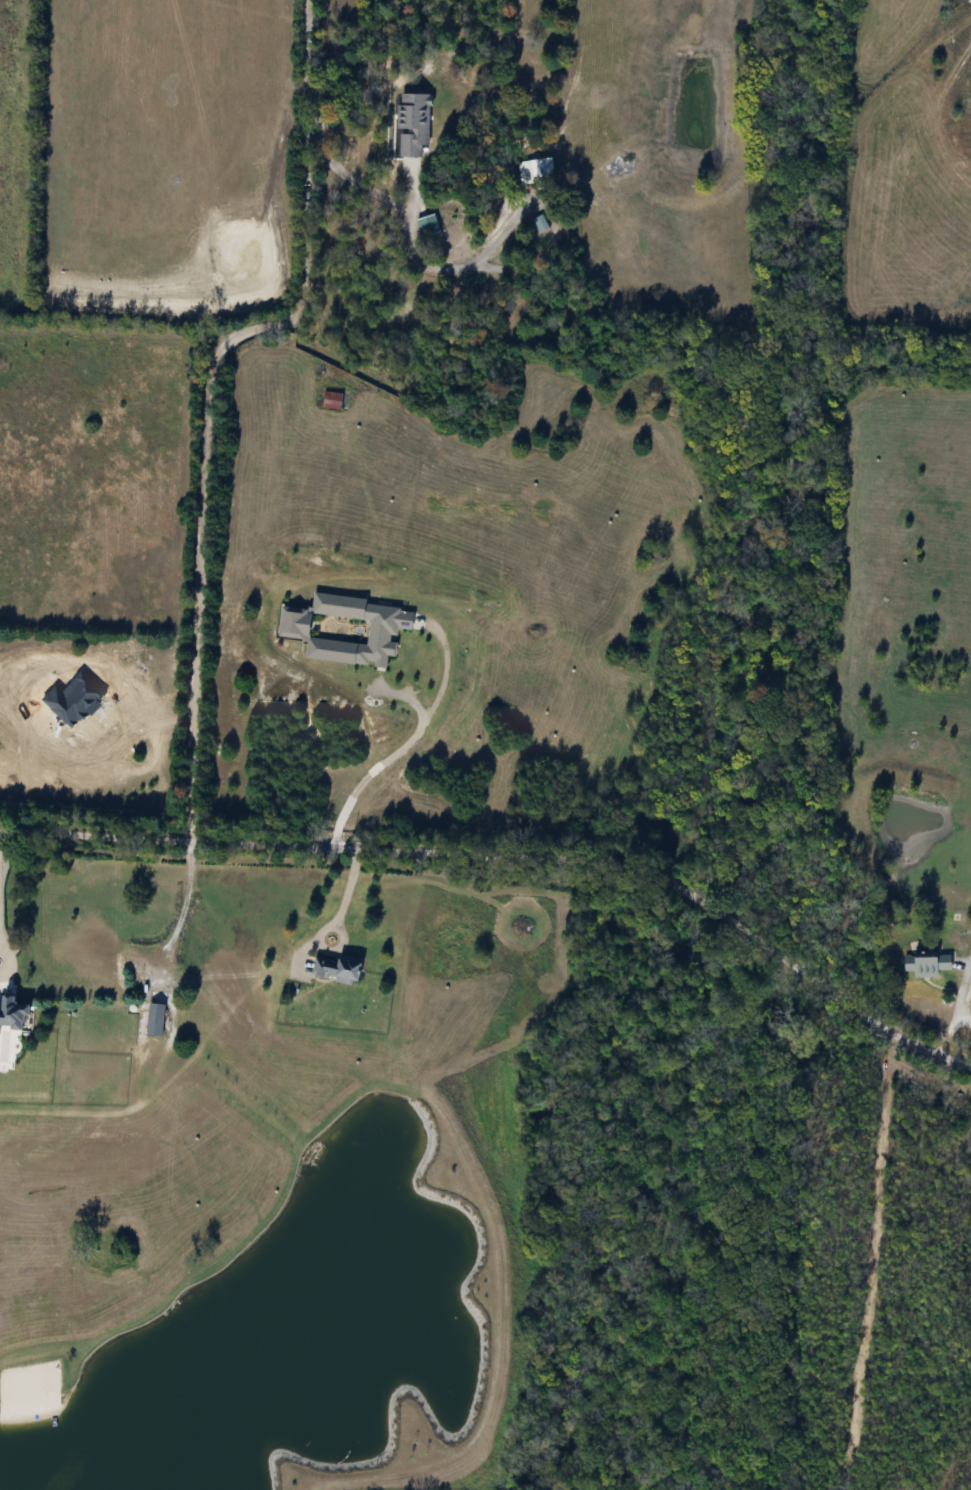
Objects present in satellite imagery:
building: (411, 123)
road: (351, 177)
building: (539, 223)
building: (425, 225)
road: (209, 392)
road: (393, 752)
road: (514, 856)
road: (180, 909)
road: (338, 913)
building: (924, 963)
building: (332, 968)
building: (9, 1012)
building: (152, 1018)

